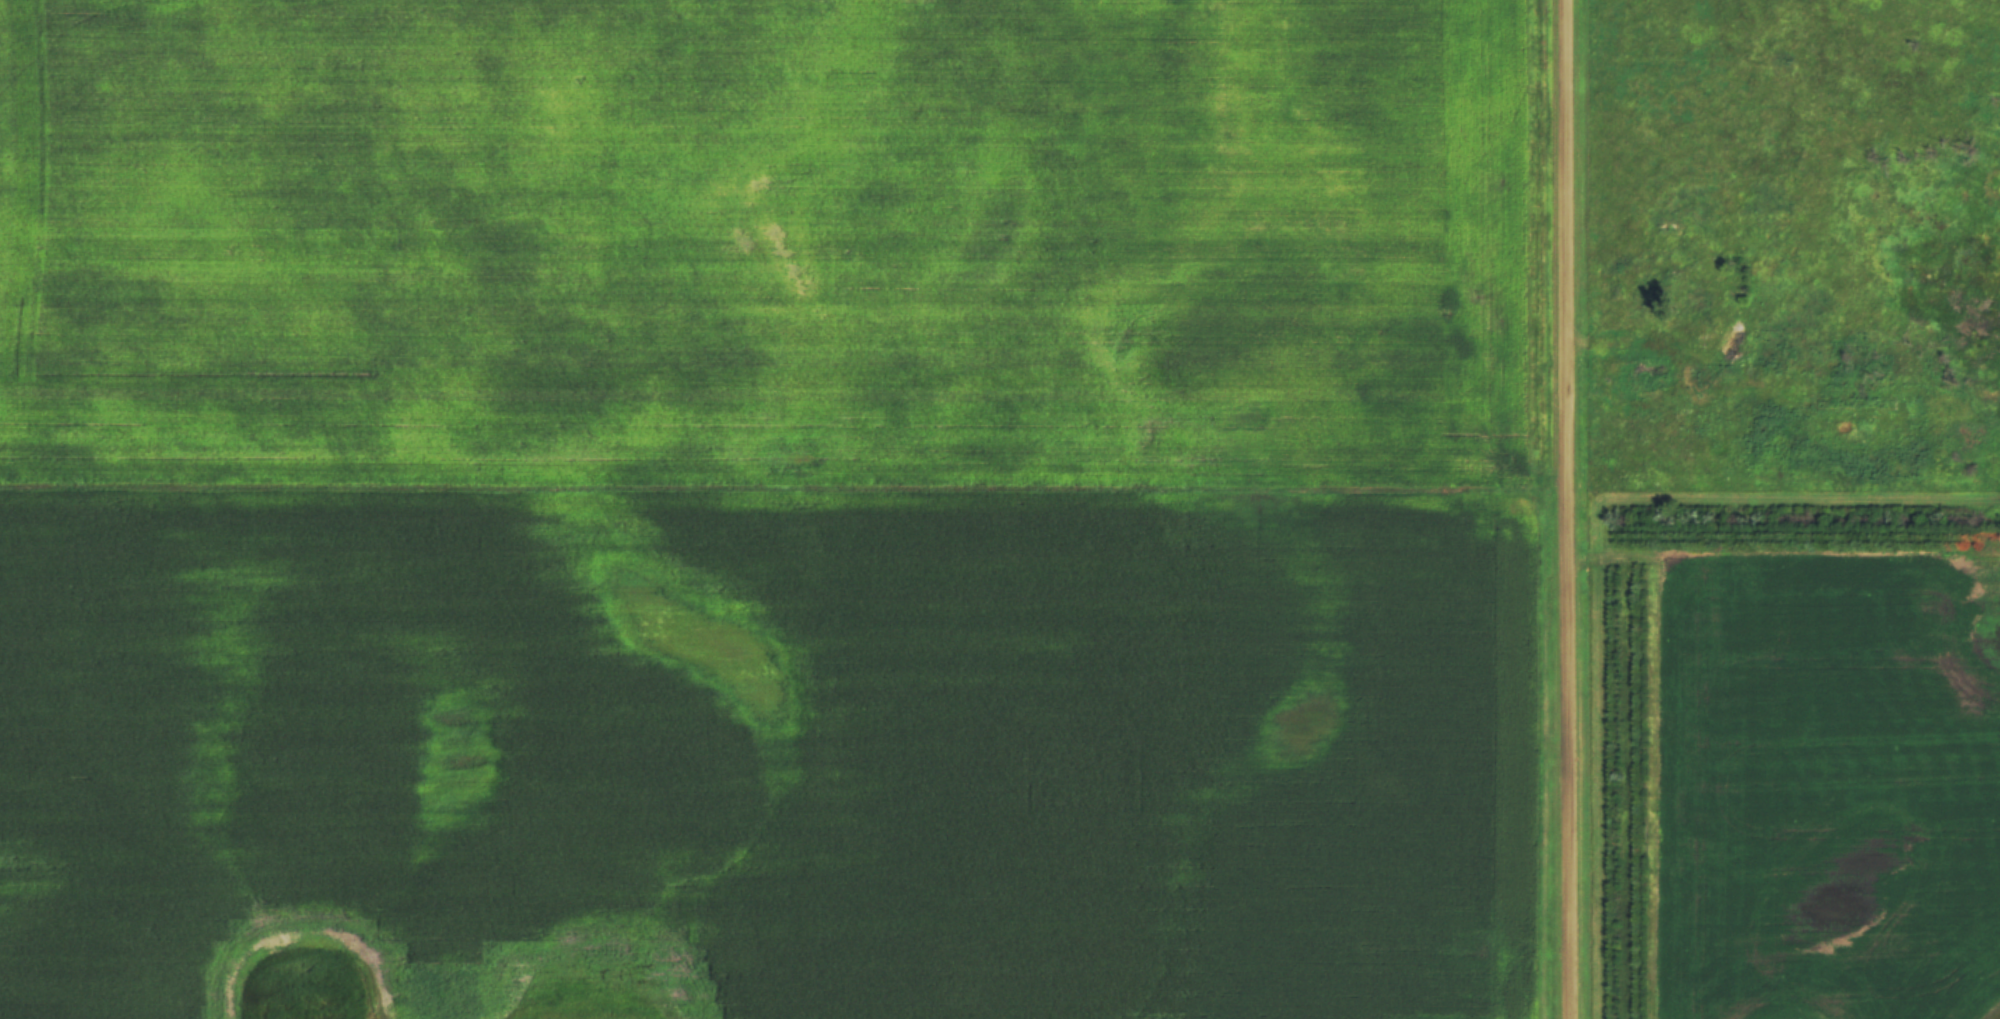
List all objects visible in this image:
road: (1570, 509)

